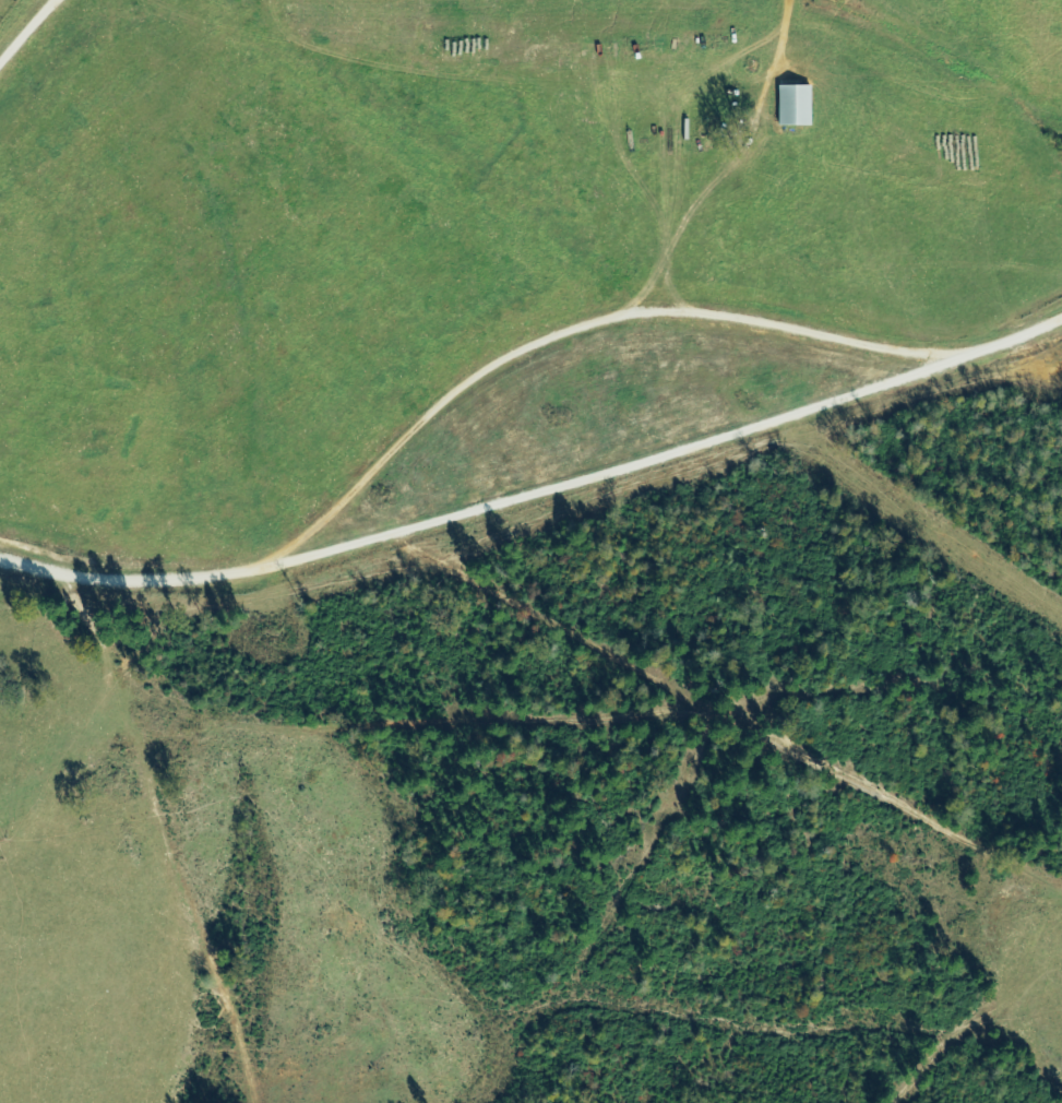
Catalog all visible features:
road: (36, 54)
building: (795, 106)
road: (498, 366)
road: (530, 626)

